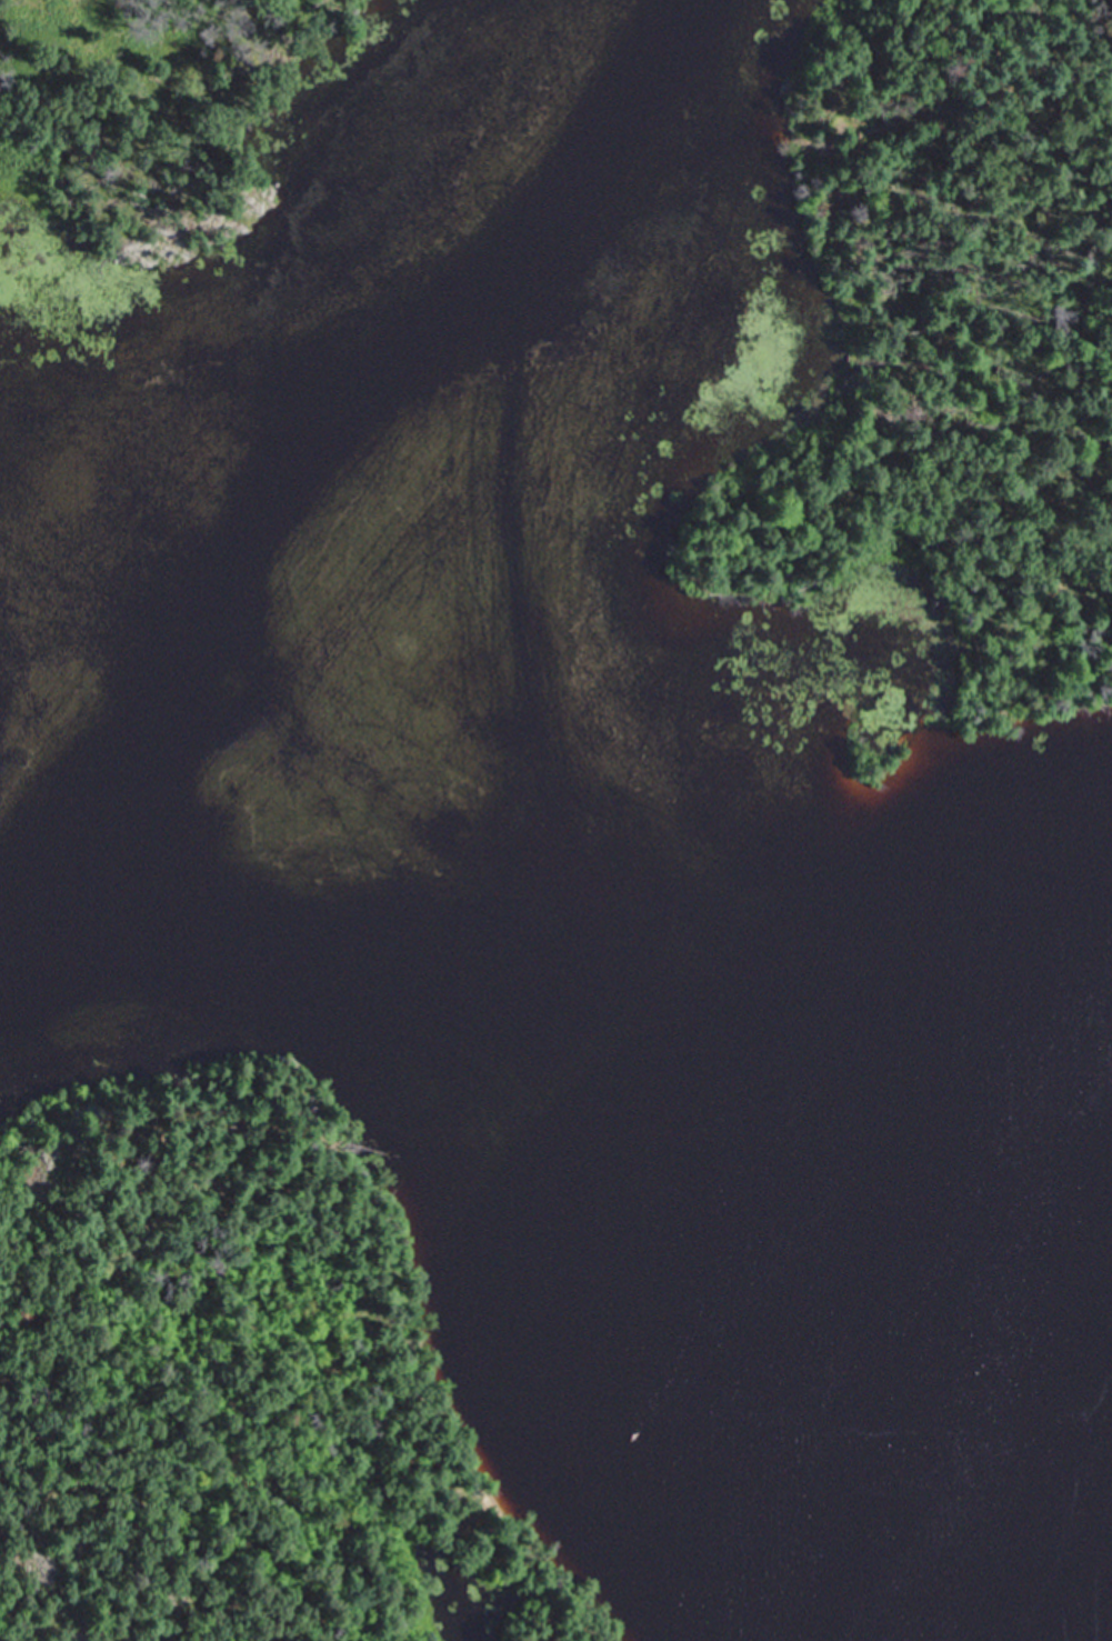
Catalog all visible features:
river: (1088, 1618)

